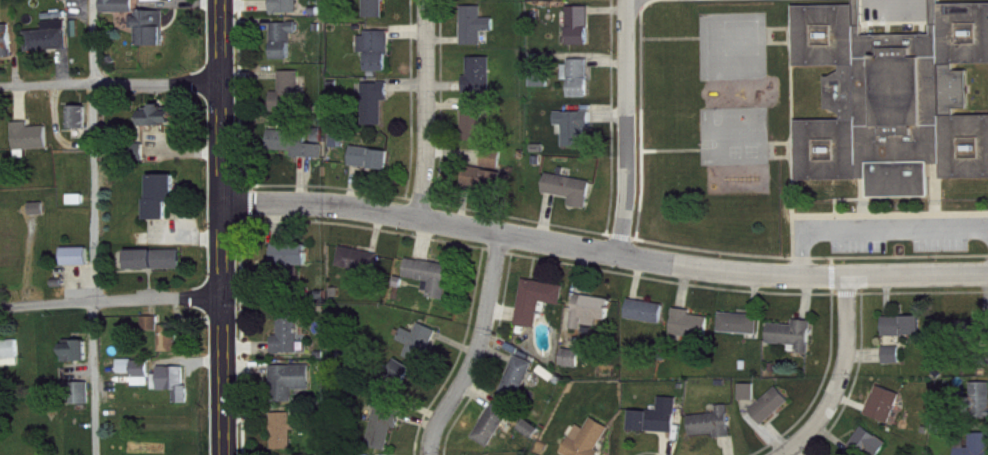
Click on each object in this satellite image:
building: (579, 1)
building: (475, 3)
building: (78, 4)
building: (288, 11)
building: (119, 12)
building: (377, 13)
building: (478, 34)
building: (582, 35)
building: (152, 36)
building: (52, 46)
building: (287, 48)
building: (7, 49)
building: (379, 59)
road: (112, 84)
building: (482, 84)
building: (581, 86)
building: (543, 87)
building: (291, 101)
building: (889, 102)
road: (428, 108)
building: (378, 110)
road: (627, 125)
building: (83, 126)
building: (160, 126)
building: (476, 130)
building: (577, 136)
building: (34, 147)
building: (302, 152)
building: (373, 167)
building: (488, 167)
building: (489, 188)
building: (573, 198)
building: (165, 204)
building: (40, 218)
road: (226, 227)
road: (881, 231)
road: (606, 249)
building: (294, 263)
building: (80, 265)
building: (158, 268)
building: (361, 269)
building: (436, 285)
road: (113, 302)
building: (540, 309)
building: (594, 320)
building: (648, 320)
building: (742, 332)
building: (693, 333)
building: (906, 335)
building: (168, 343)
building: (291, 343)
building: (796, 344)
road: (477, 349)
building: (422, 351)
building: (80, 360)
building: (11, 363)
building: (896, 364)
building: (574, 367)
building: (140, 379)
road: (836, 379)
building: (521, 386)
building: (400, 388)
building: (292, 390)
building: (176, 391)
building: (750, 401)
building: (86, 402)
building: (981, 408)
building: (887, 413)
building: (773, 414)
building: (659, 426)
building: (715, 432)
building: (495, 433)
building: (386, 434)
building: (287, 437)
building: (533, 437)
building: (591, 443)
building: (871, 448)
building: (981, 448)

